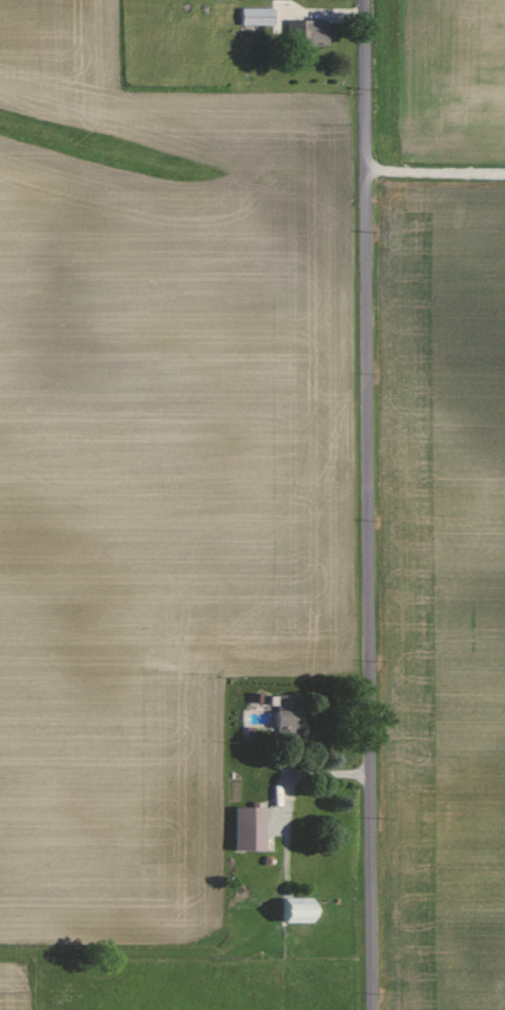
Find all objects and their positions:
building: (255, 16)
building: (306, 33)
road: (435, 169)
road: (367, 505)
building: (284, 715)
building: (246, 827)
building: (291, 910)

